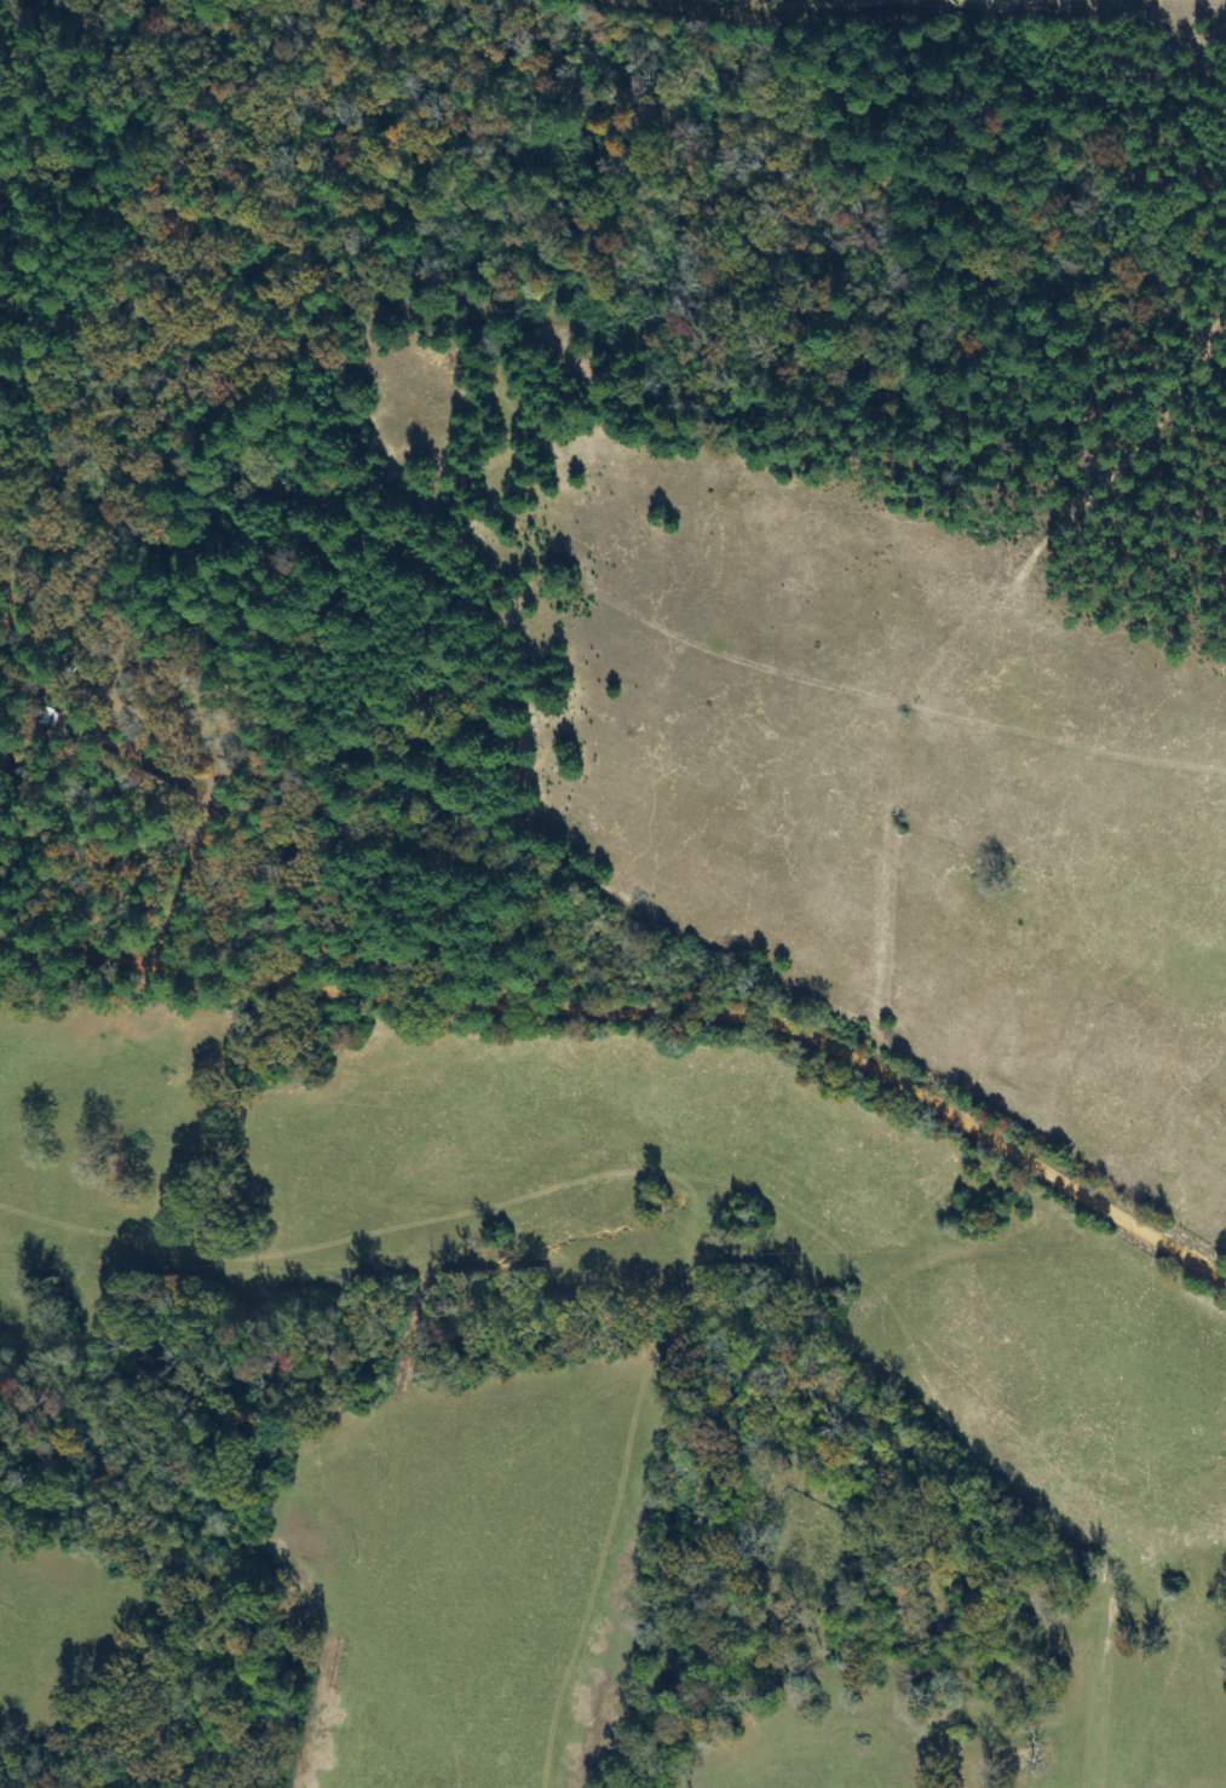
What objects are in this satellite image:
road: (315, 805)
park: (326, 908)
road: (644, 1030)

